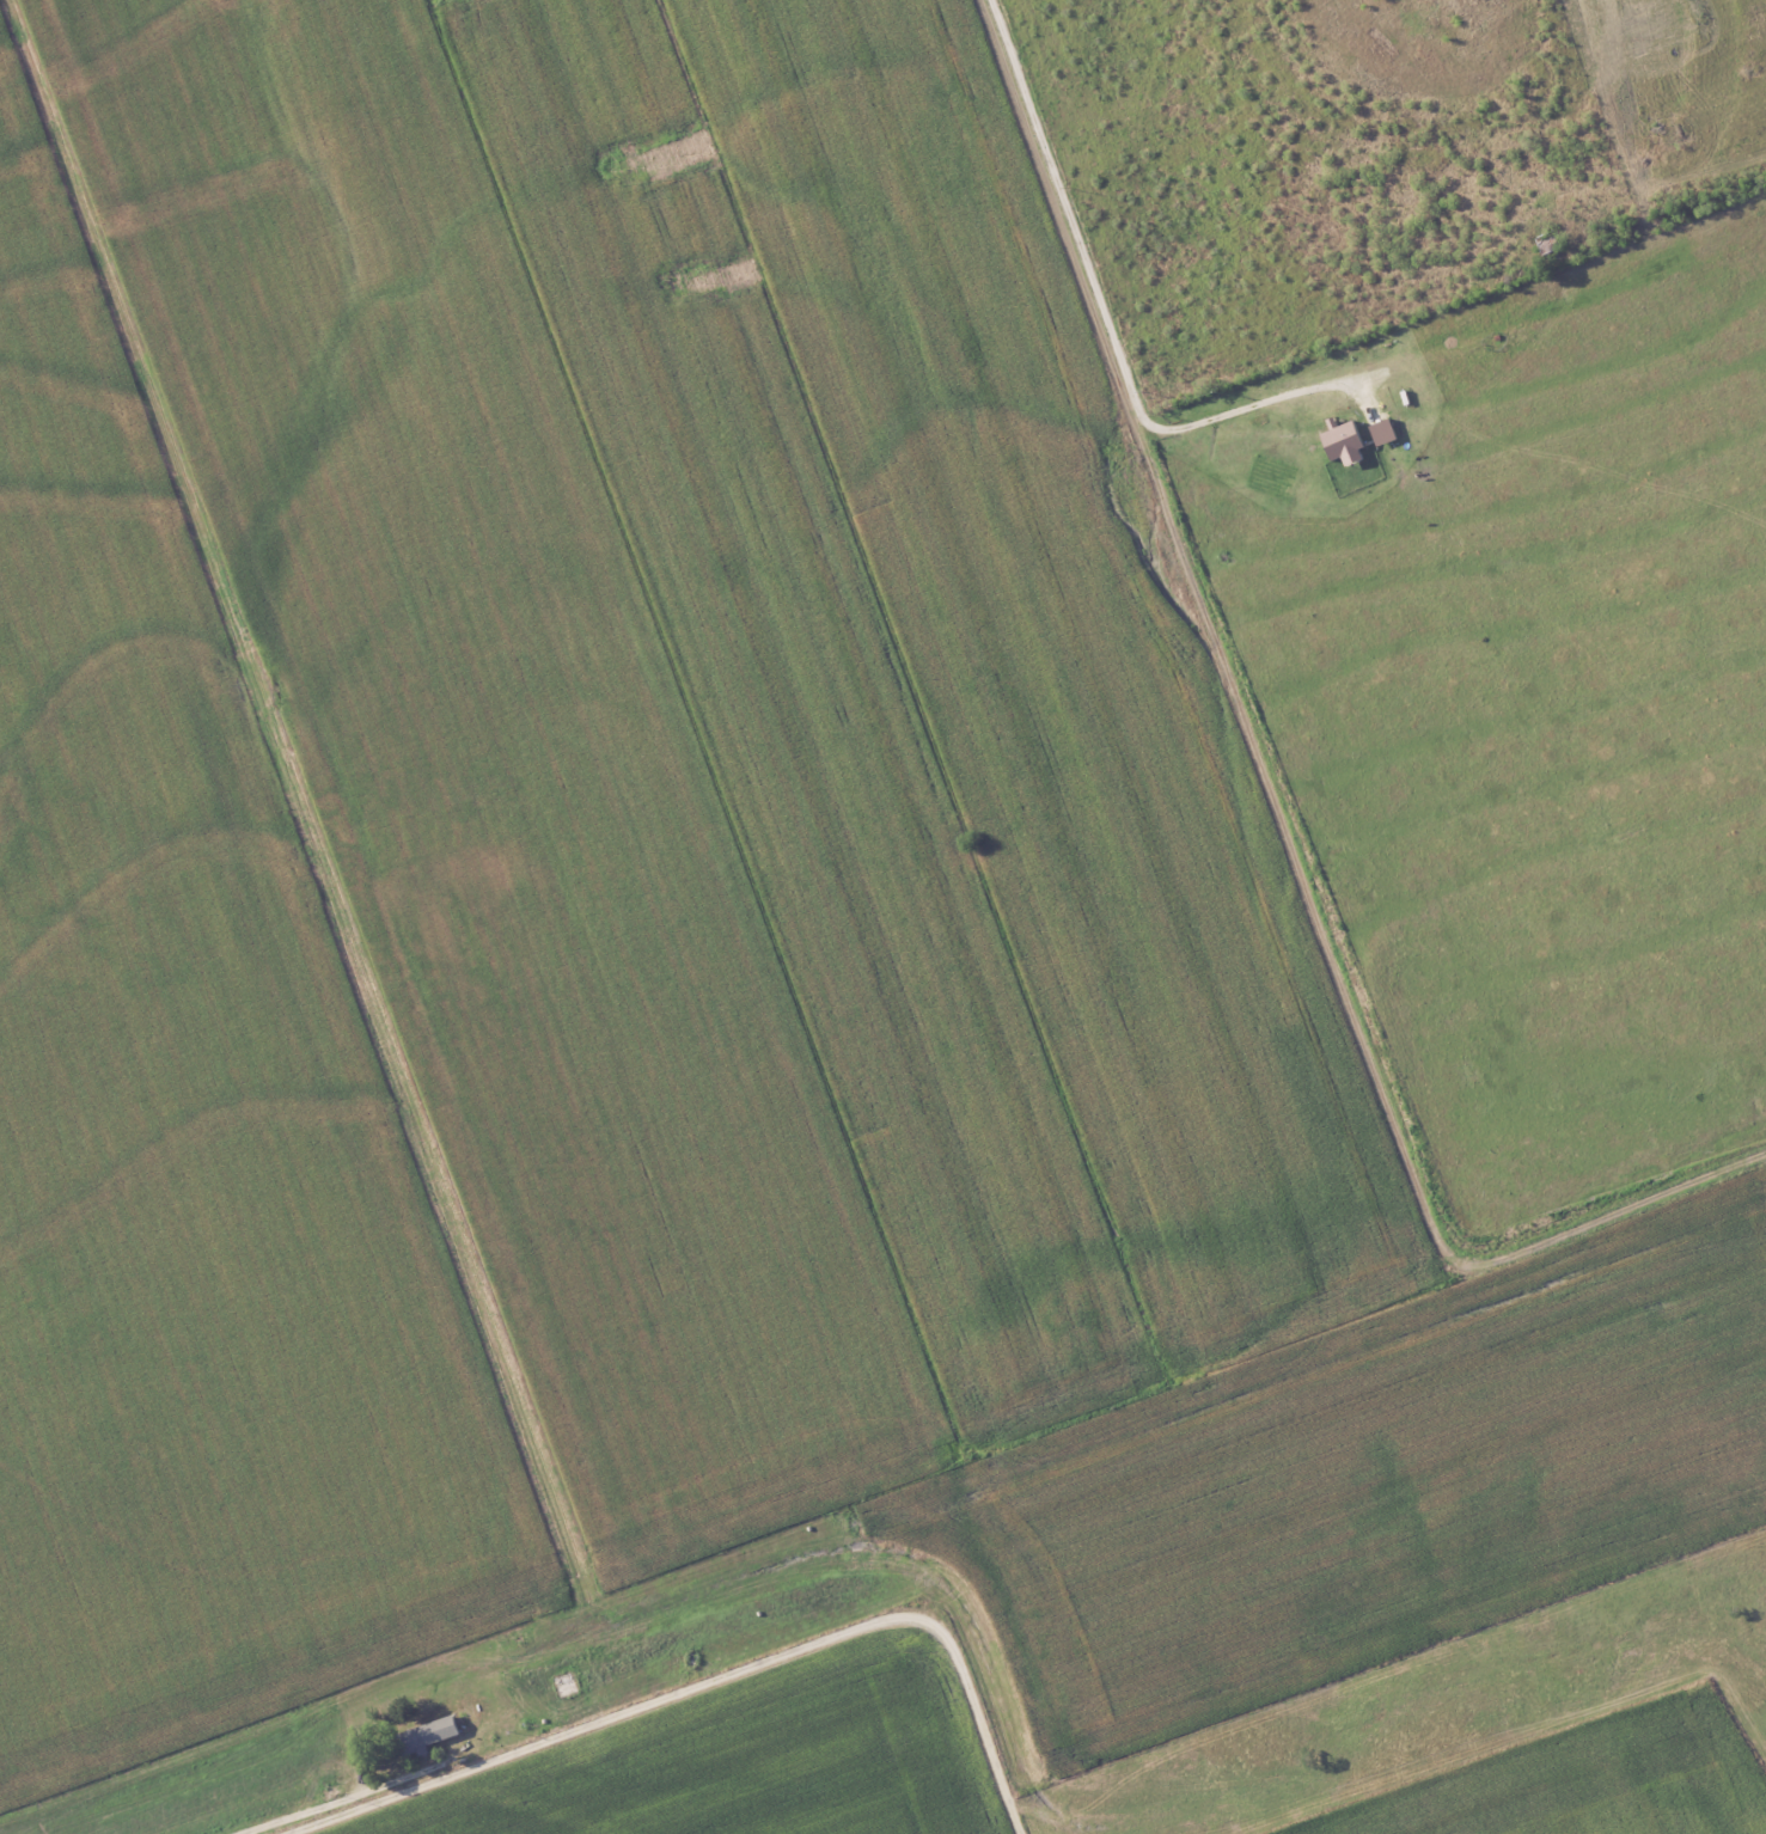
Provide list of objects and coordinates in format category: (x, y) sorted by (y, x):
road: (1101, 325)
building: (1379, 433)
building: (1339, 444)
road: (693, 1688)
road: (1010, 1810)

